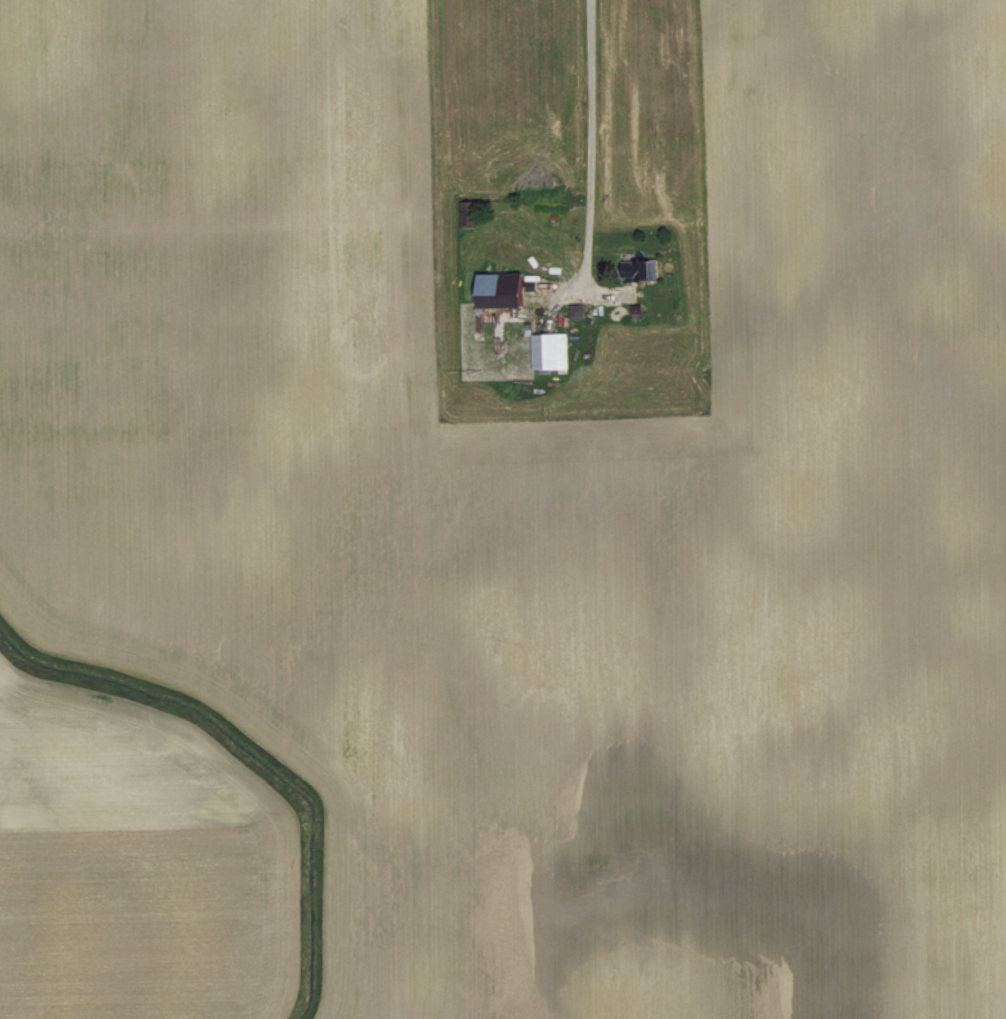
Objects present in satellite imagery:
road: (587, 154)
building: (551, 350)

